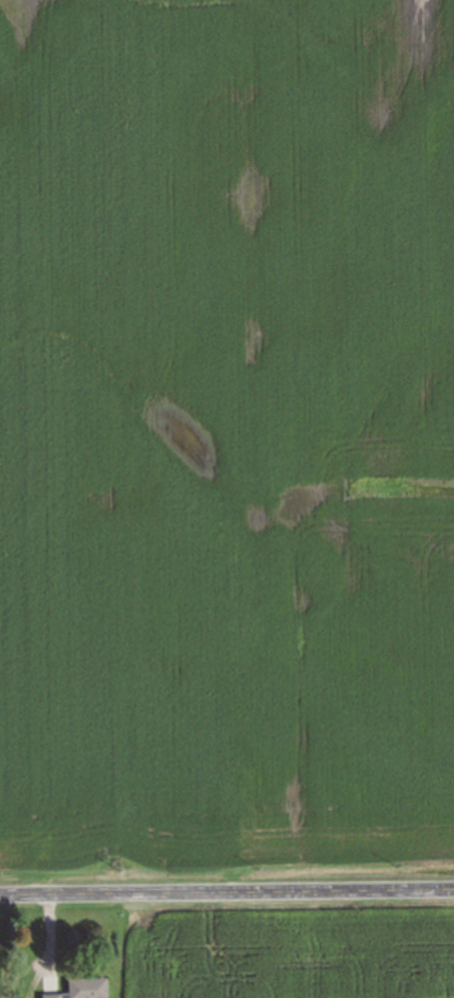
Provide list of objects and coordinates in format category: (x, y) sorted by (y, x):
road: (226, 892)
building: (85, 987)
building: (51, 995)

